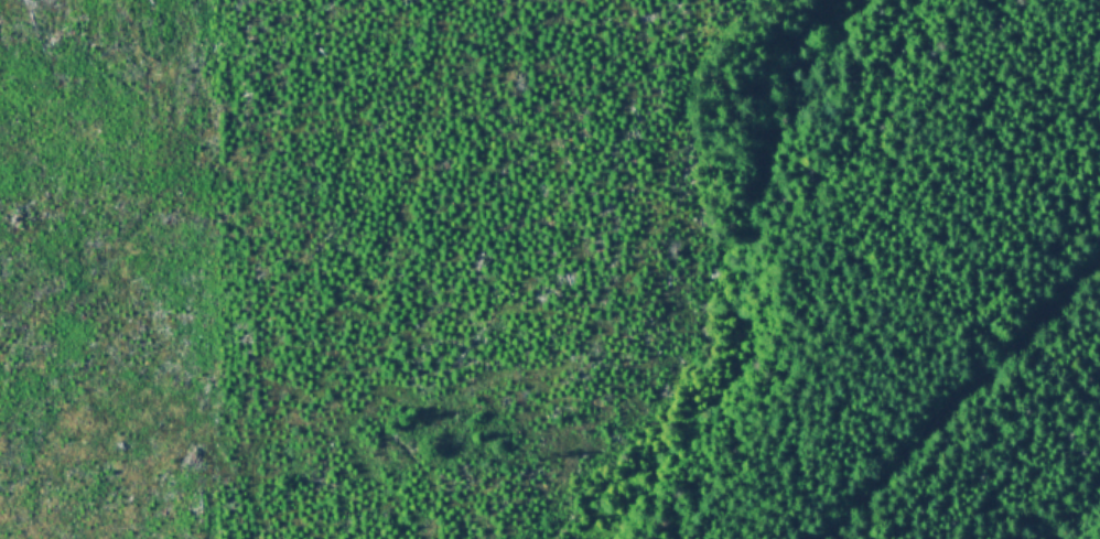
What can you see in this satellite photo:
road: (951, 386)

